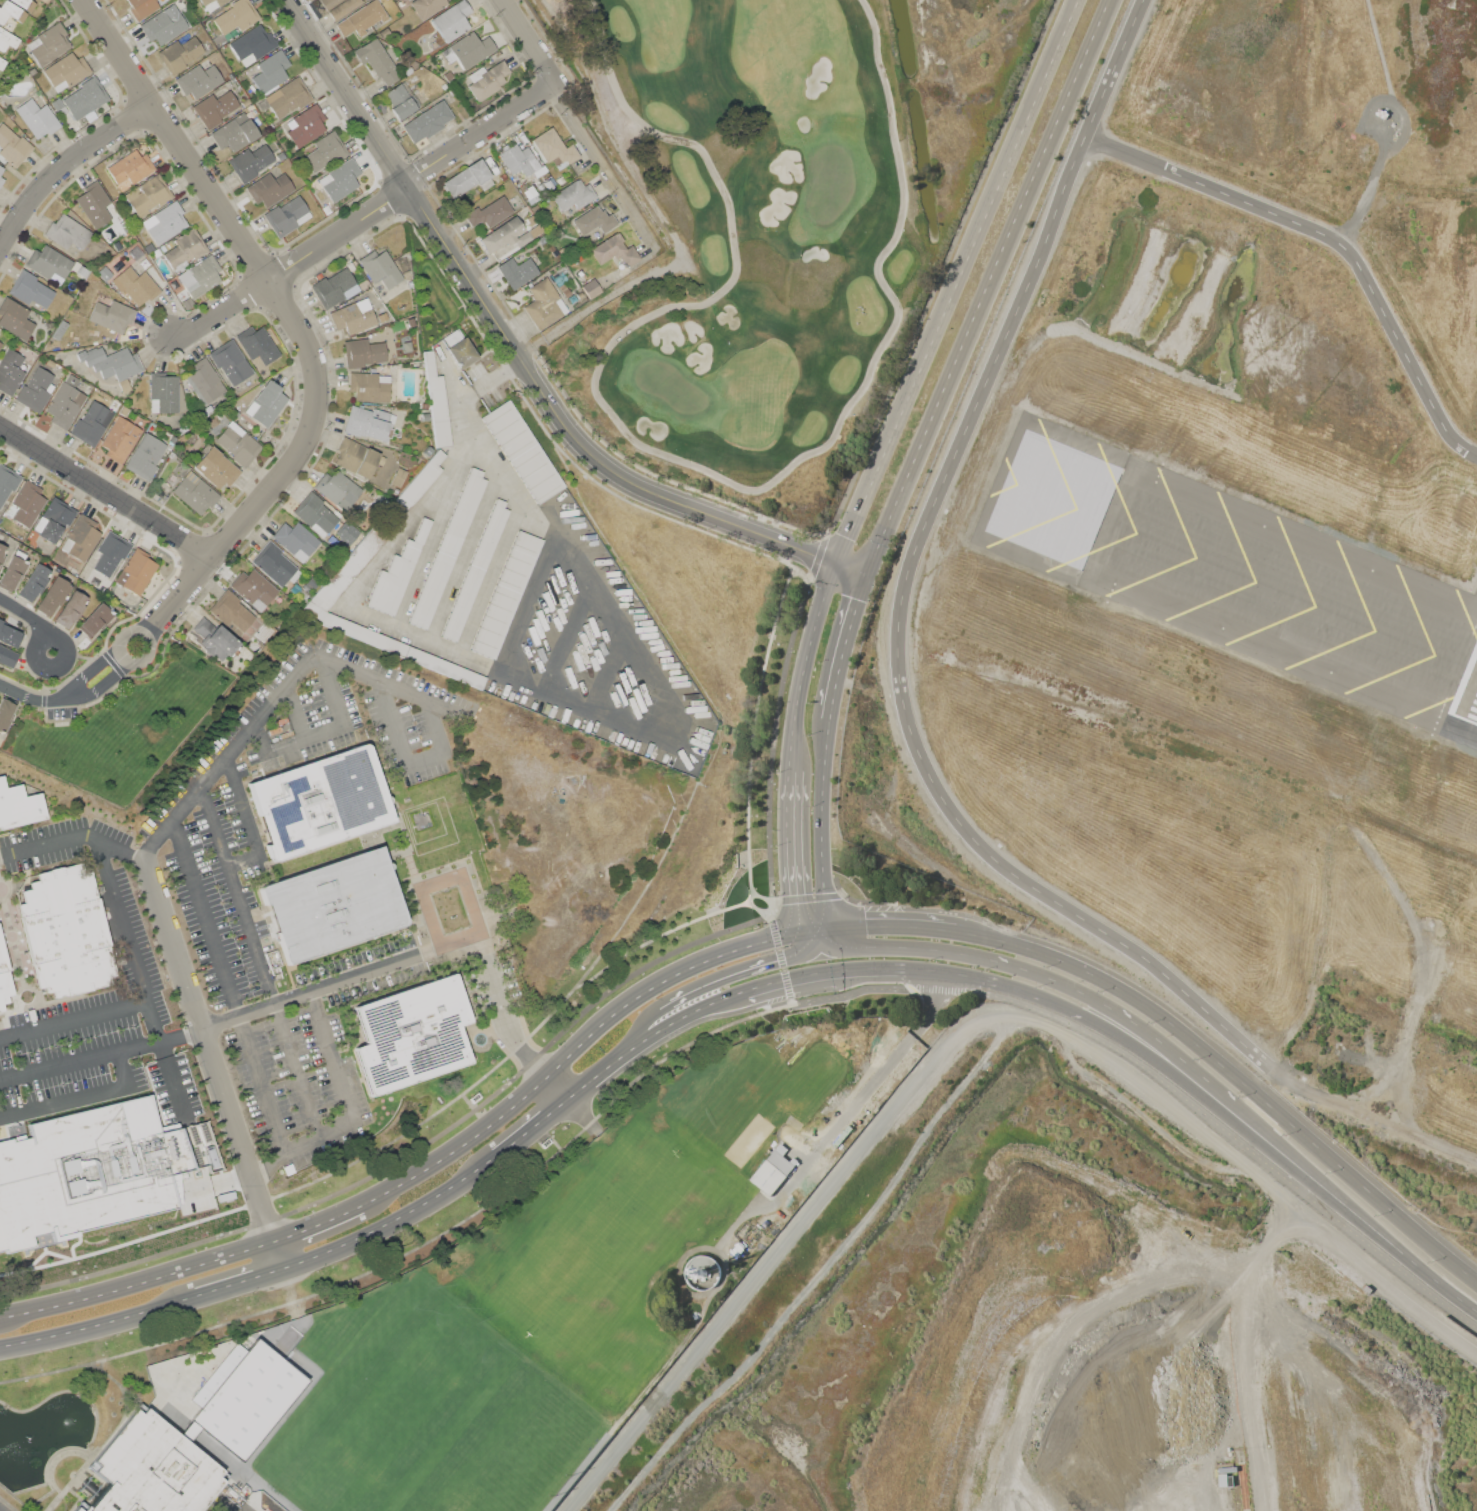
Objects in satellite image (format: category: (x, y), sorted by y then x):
building: (211, 3)
building: (25, 4)
building: (339, 7)
building: (427, 7)
building: (142, 8)
building: (11, 11)
building: (236, 16)
building: (362, 18)
building: (450, 23)
building: (164, 25)
building: (385, 32)
building: (7, 39)
road: (531, 41)
building: (48, 44)
building: (253, 45)
building: (468, 50)
building: (181, 54)
building: (377, 61)
building: (2, 63)
building: (32, 71)
building: (67, 71)
building: (270, 71)
building: (199, 79)
building: (487, 79)
building: (288, 98)
building: (86, 99)
building: (246, 102)
building: (401, 103)
building: (57, 104)
building: (214, 108)
building: (37, 118)
building: (428, 121)
river: (918, 122)
building: (306, 126)
building: (235, 133)
building: (13, 146)
building: (554, 147)
building: (325, 152)
building: (519, 160)
building: (250, 162)
road: (66, 167)
building: (1, 169)
building: (130, 169)
park: (806, 169)
road: (605, 170)
building: (466, 178)
building: (1, 180)
building: (340, 180)
building: (269, 188)
building: (573, 195)
building: (149, 196)
road: (906, 196)
building: (94, 204)
building: (490, 212)
building: (287, 216)
road: (368, 217)
building: (594, 220)
building: (165, 223)
building: (68, 232)
building: (506, 236)
road: (1331, 238)
building: (185, 249)
building: (614, 251)
building: (48, 262)
building: (380, 268)
building: (83, 271)
building: (518, 272)
building: (104, 273)
building: (200, 276)
road: (940, 278)
road: (958, 282)
building: (136, 284)
road: (990, 287)
building: (334, 288)
building: (591, 288)
building: (30, 289)
building: (181, 293)
building: (544, 304)
building: (112, 315)
building: (353, 316)
building: (15, 318)
road: (294, 321)
road: (511, 341)
building: (0, 343)
building: (257, 345)
building: (363, 352)
building: (461, 353)
building: (111, 362)
building: (230, 362)
building: (10, 372)
building: (204, 381)
building: (124, 386)
building: (369, 386)
building: (35, 390)
building: (163, 392)
building: (436, 402)
building: (65, 403)
building: (266, 403)
building: (92, 423)
building: (368, 423)
building: (120, 439)
building: (238, 444)
building: (522, 451)
building: (145, 457)
building: (355, 457)
building: (216, 468)
building: (398, 477)
building: (7, 482)
building: (337, 489)
road: (107, 492)
building: (195, 493)
building: (27, 504)
building: (315, 514)
building: (54, 520)
building: (346, 532)
building: (82, 538)
building: (295, 540)
building: (448, 549)
building: (2, 553)
building: (110, 553)
building: (273, 563)
road: (853, 570)
building: (136, 571)
building: (476, 571)
building: (12, 572)
building: (344, 574)
building: (397, 574)
building: (34, 582)
building: (254, 588)
building: (506, 594)
building: (52, 595)
road: (528, 606)
building: (70, 609)
building: (231, 613)
road: (33, 618)
building: (96, 619)
building: (9, 635)
road: (566, 636)
building: (214, 638)
road: (465, 642)
road: (148, 644)
road: (848, 647)
building: (7, 657)
road: (807, 666)
road: (298, 670)
airport runway: (1473, 670)
road: (608, 671)
road: (327, 694)
road: (66, 699)
road: (659, 699)
road: (903, 707)
building: (5, 715)
road: (297, 716)
road: (390, 720)
road: (431, 723)
road: (755, 723)
road: (477, 740)
road: (262, 742)
road: (772, 753)
road: (288, 754)
airport: (1352, 755)
road: (424, 756)
building: (320, 801)
building: (19, 805)
road: (824, 809)
road: (247, 813)
road: (73, 835)
road: (795, 836)
road: (243, 858)
road: (764, 897)
building: (334, 905)
road: (824, 915)
road: (807, 917)
road: (206, 919)
road: (887, 927)
building: (66, 930)
traffic signals: (820, 932)
road: (905, 948)
road: (260, 965)
road: (845, 970)
road: (741, 973)
road: (964, 975)
building: (4, 977)
road: (348, 978)
road: (1003, 984)
road: (150, 1015)
road: (1123, 1016)
road: (73, 1018)
road: (667, 1028)
building: (412, 1034)
road: (181, 1037)
road: (632, 1044)
road: (580, 1047)
road: (1137, 1049)
road: (523, 1050)
road: (79, 1061)
road: (214, 1067)
road: (884, 1067)
road: (121, 1070)
road: (1234, 1074)
road: (258, 1084)
road: (586, 1088)
road: (345, 1093)
road: (63, 1103)
road: (1188, 1105)
road: (413, 1129)
road: (535, 1131)
road: (418, 1152)
road: (267, 1166)
building: (772, 1172)
building: (81, 1177)
road: (200, 1192)
road: (1355, 1208)
road: (395, 1223)
road: (475, 1223)
road: (1351, 1223)
road: (319, 1225)
park: (600, 1239)
road: (138, 1284)
road: (241, 1285)
road: (99, 1326)
park: (615, 1363)
park: (473, 1393)
park: (248, 1395)
building: (243, 1397)
park: (365, 1459)
building: (152, 1469)
building: (1225, 1479)
parking lot: (243, 1507)
building: (76, 1509)

